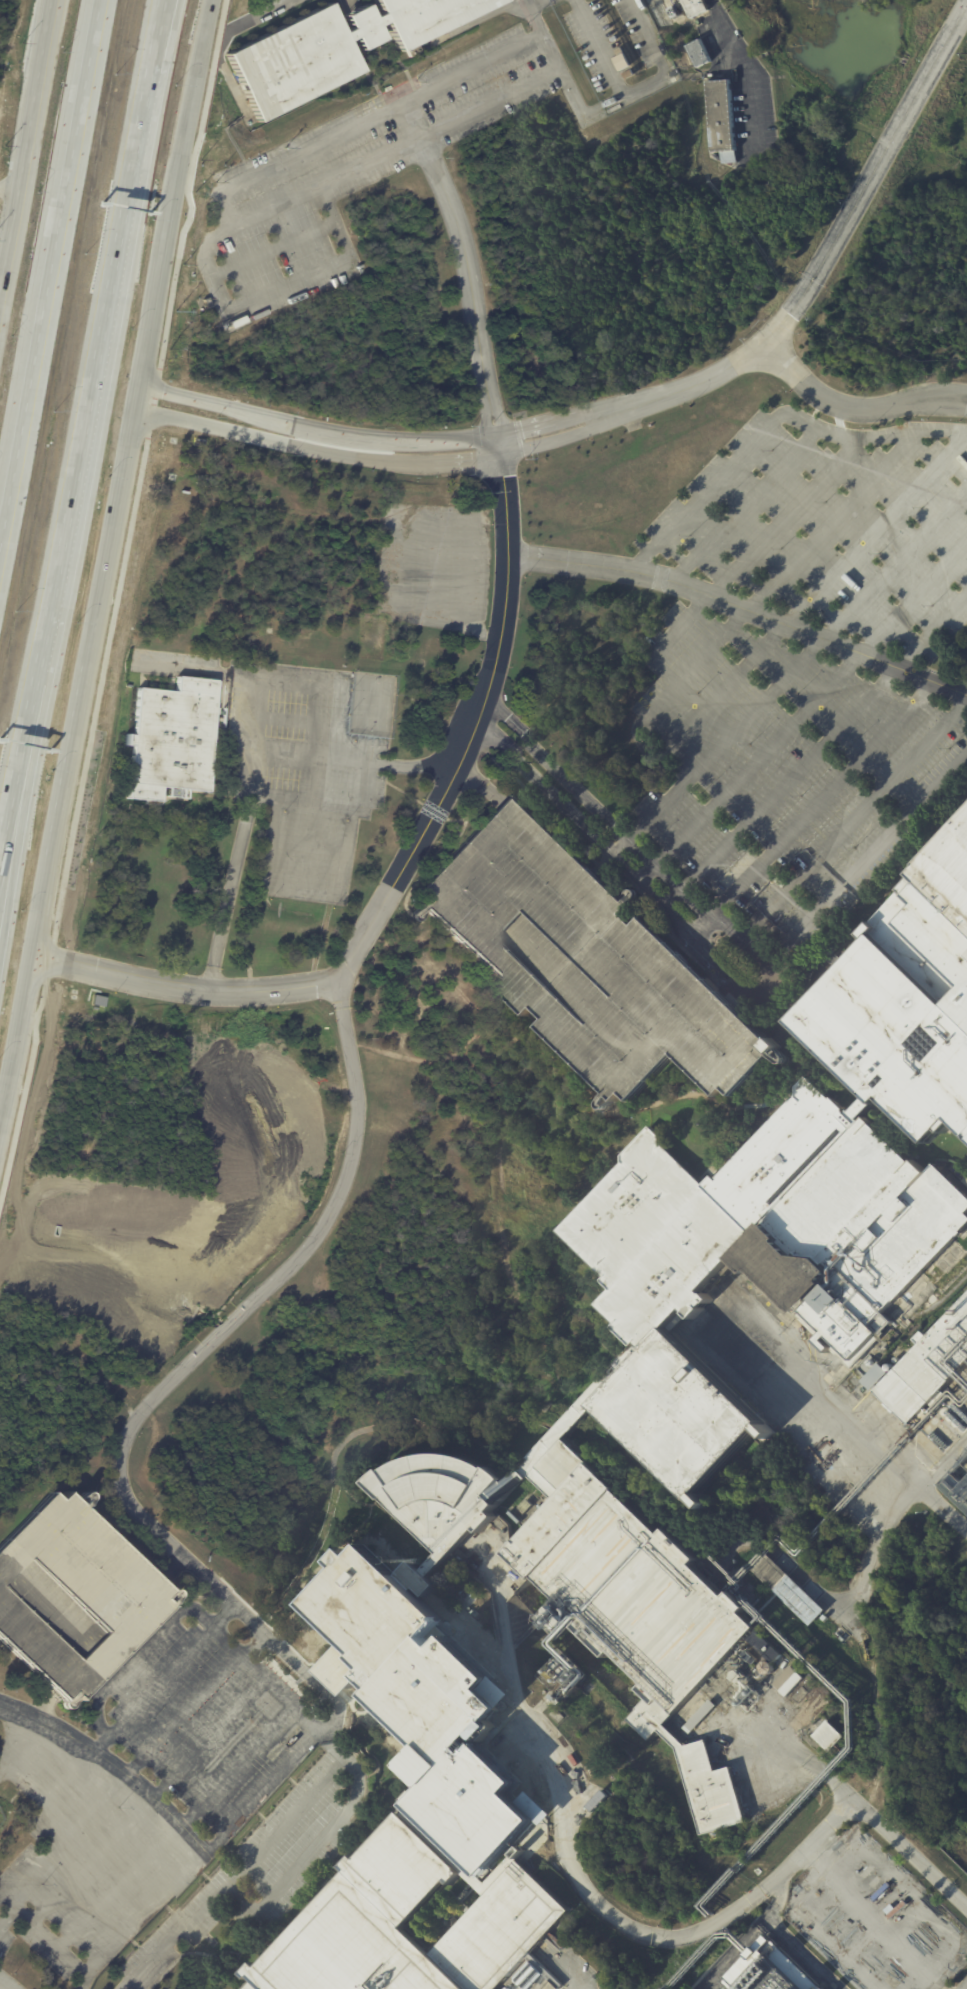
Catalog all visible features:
road: (162, 1)
road: (162, 1)
road: (530, 2)
building: (692, 7)
building: (331, 48)
road: (598, 48)
building: (414, 51)
building: (697, 52)
road: (471, 67)
road: (751, 67)
road: (602, 105)
road: (412, 117)
building: (721, 119)
road: (309, 145)
road: (26, 150)
road: (345, 172)
road: (173, 217)
road: (271, 246)
road: (828, 247)
road: (323, 267)
road: (52, 270)
road: (472, 290)
building: (206, 303)
road: (99, 353)
road: (853, 407)
road: (611, 413)
road: (867, 437)
road: (702, 493)
road: (744, 505)
road: (782, 518)
road: (832, 522)
road: (821, 585)
road: (117, 591)
road: (741, 610)
road: (829, 631)
road: (701, 658)
road: (333, 684)
road: (85, 699)
road: (814, 702)
road: (665, 727)
road: (465, 729)
building: (169, 737)
road: (825, 738)
road: (17, 778)
road: (822, 800)
road: (858, 820)
road: (18, 824)
road: (869, 860)
road: (267, 870)
road: (229, 892)
building: (593, 967)
parking lot: (593, 967)
road: (774, 984)
road: (186, 988)
building: (906, 1001)
road: (496, 1031)
road: (19, 1046)
building: (777, 1228)
road: (574, 1315)
building: (873, 1375)
building: (930, 1375)
road: (560, 1383)
parking lot: (812, 1401)
road: (538, 1408)
building: (679, 1414)
road: (124, 1450)
building: (957, 1483)
building: (447, 1511)
road: (866, 1569)
building: (789, 1592)
building: (633, 1596)
building: (471, 1599)
building: (748, 1599)
building: (74, 1605)
parking garage: (74, 1605)
building: (825, 1621)
road: (164, 1676)
building: (789, 1681)
road: (282, 1692)
building: (803, 1693)
road: (195, 1700)
road: (878, 1712)
parking lot: (201, 1719)
building: (437, 1719)
building: (830, 1737)
road: (114, 1763)
road: (357, 1786)
building: (409, 1800)
building: (600, 1802)
parking lot: (82, 1859)
parking lot: (268, 1861)
parking lot: (875, 1917)
road: (726, 1923)
road: (771, 1927)
building: (423, 1928)
road: (176, 1937)
building: (766, 1971)
road: (584, 1986)

